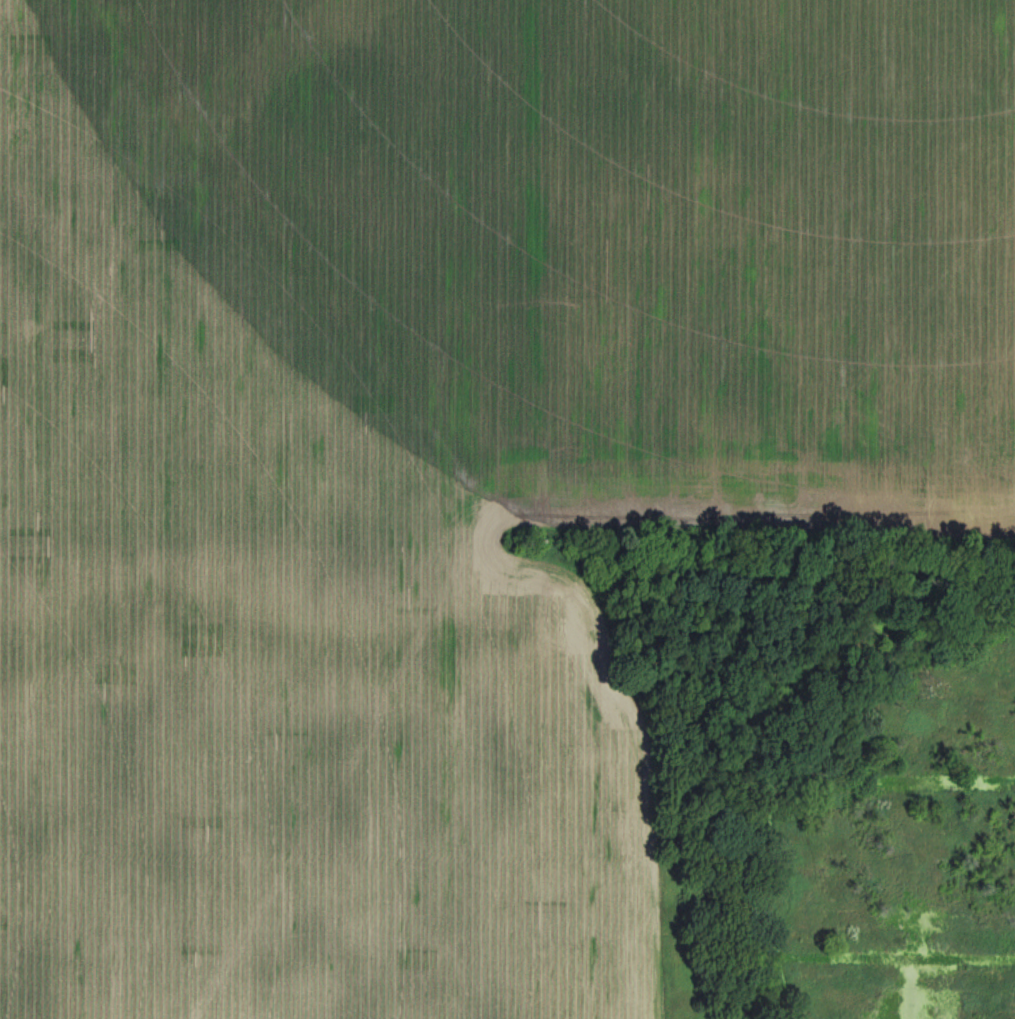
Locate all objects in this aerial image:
crop: (437, 452)

